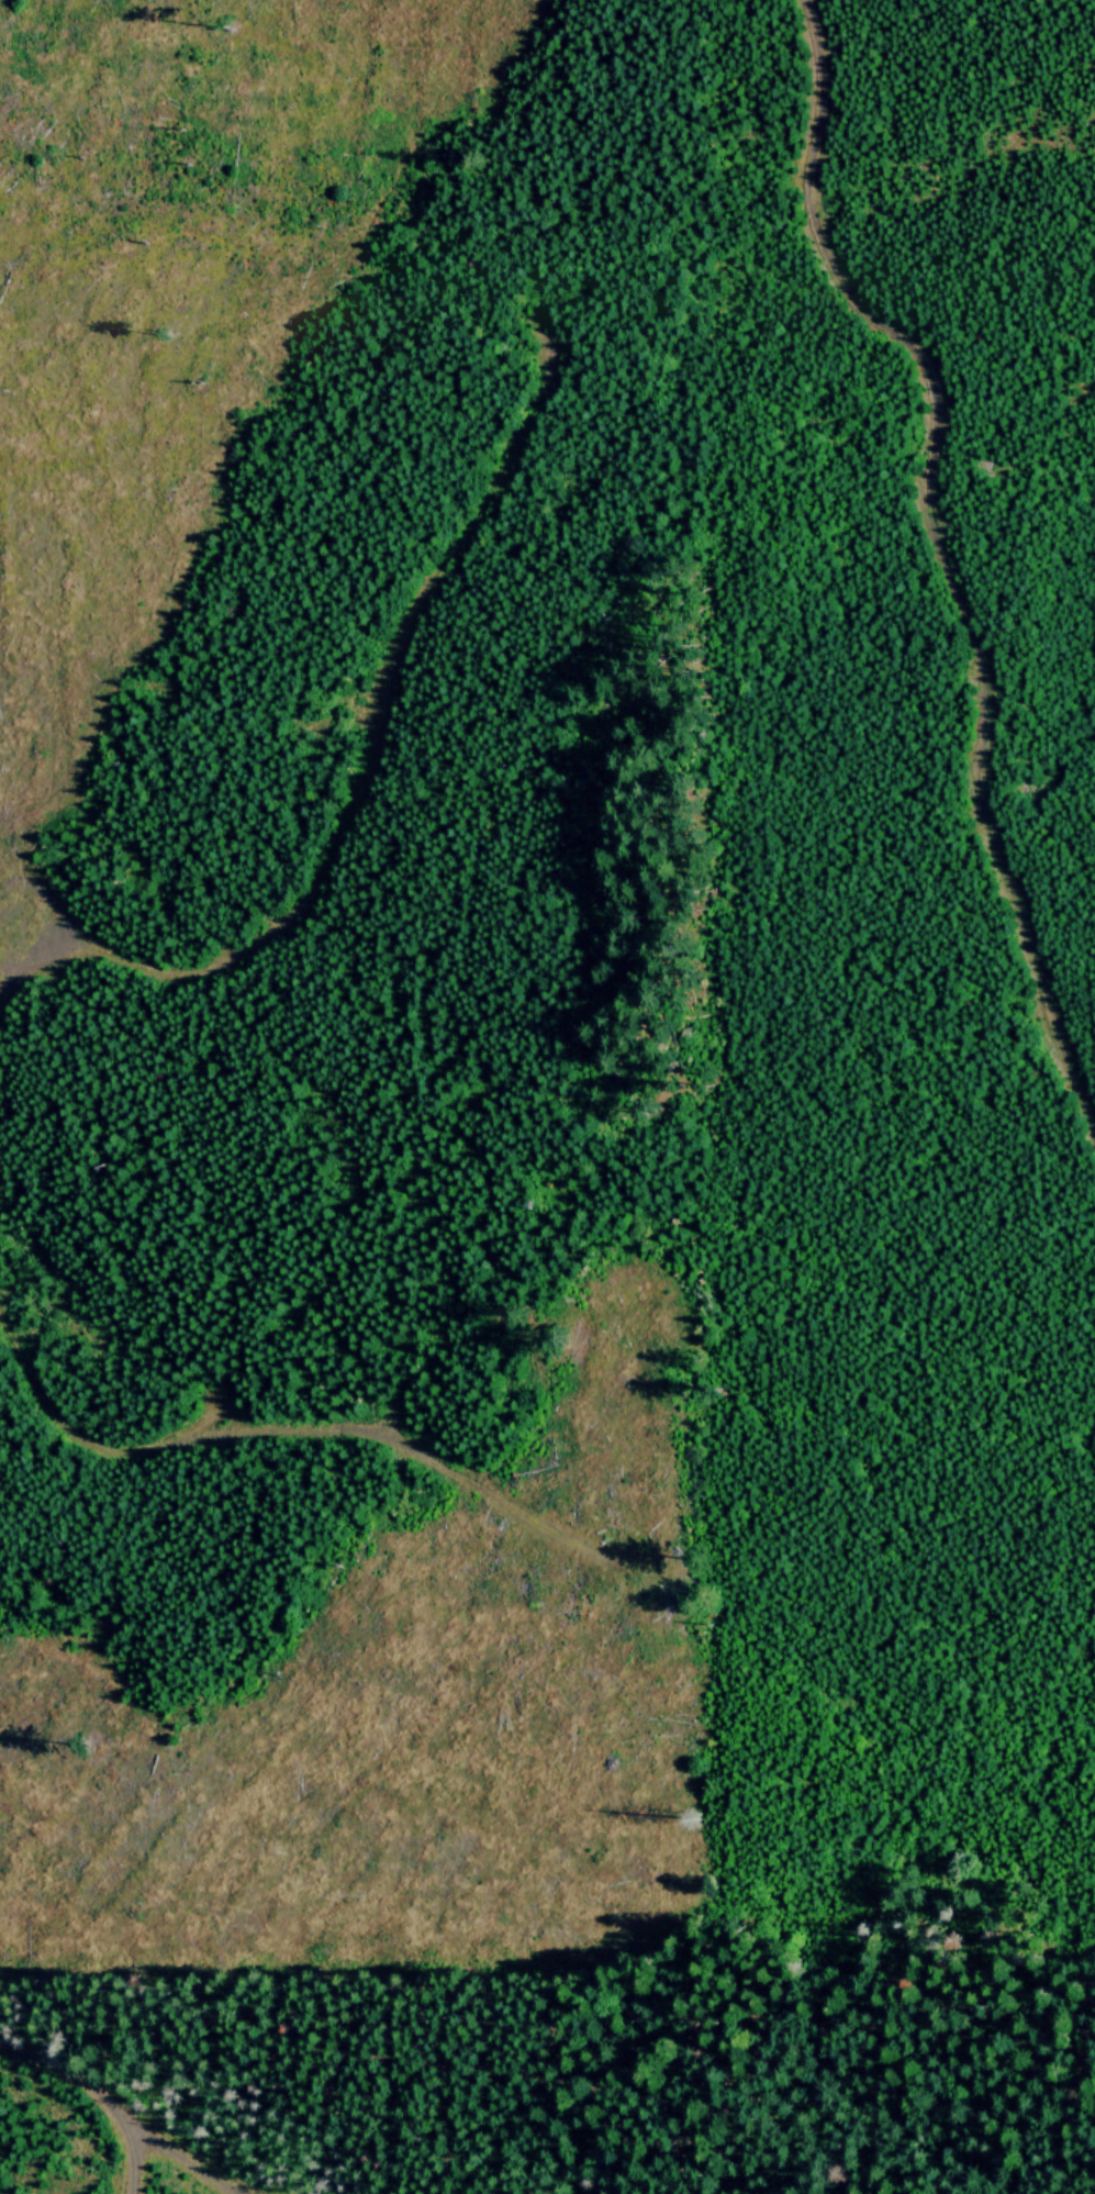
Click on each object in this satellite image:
road: (939, 557)
road: (358, 751)
road: (92, 1443)
road: (534, 2059)
road: (81, 2074)
road: (188, 2172)
road: (144, 2174)
road: (141, 2193)

